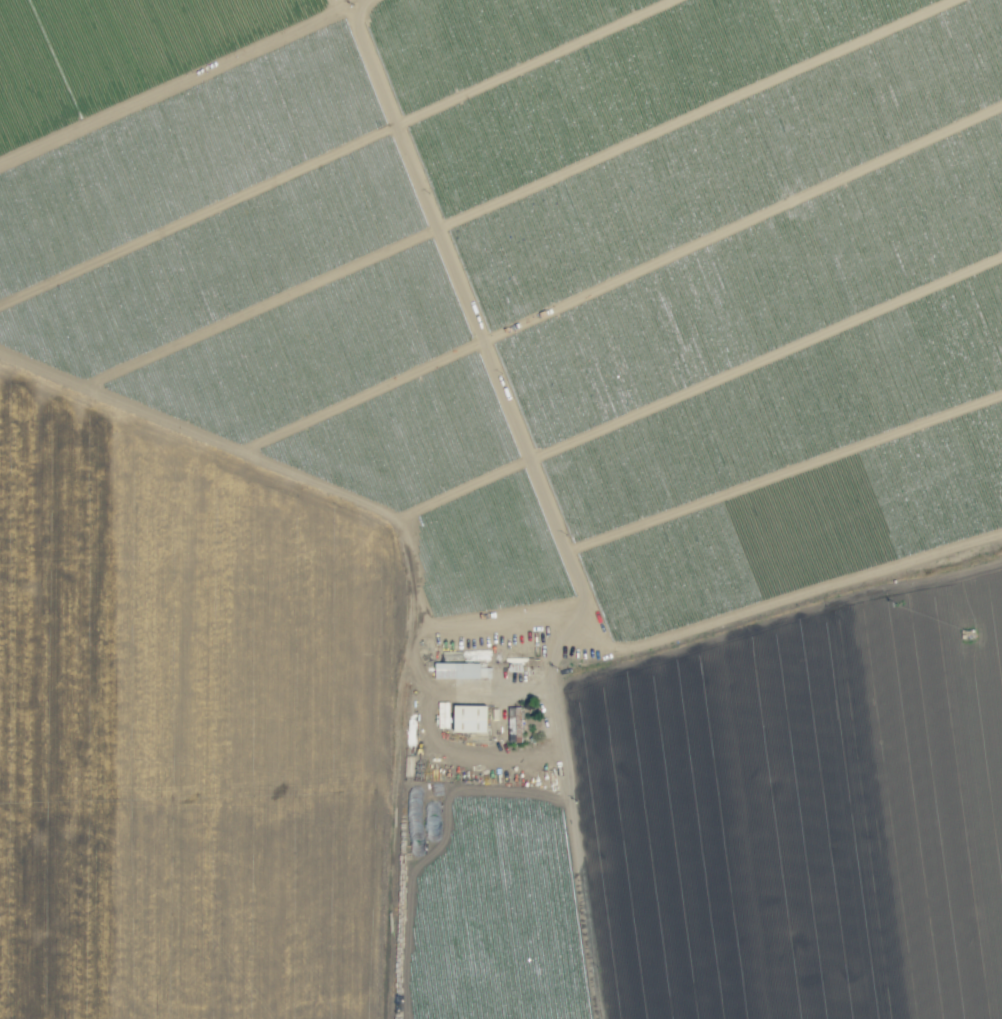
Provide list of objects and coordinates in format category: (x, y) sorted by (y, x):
crop: (467, 226)
crop: (524, 713)
building: (470, 718)
road: (431, 722)
road: (563, 722)

